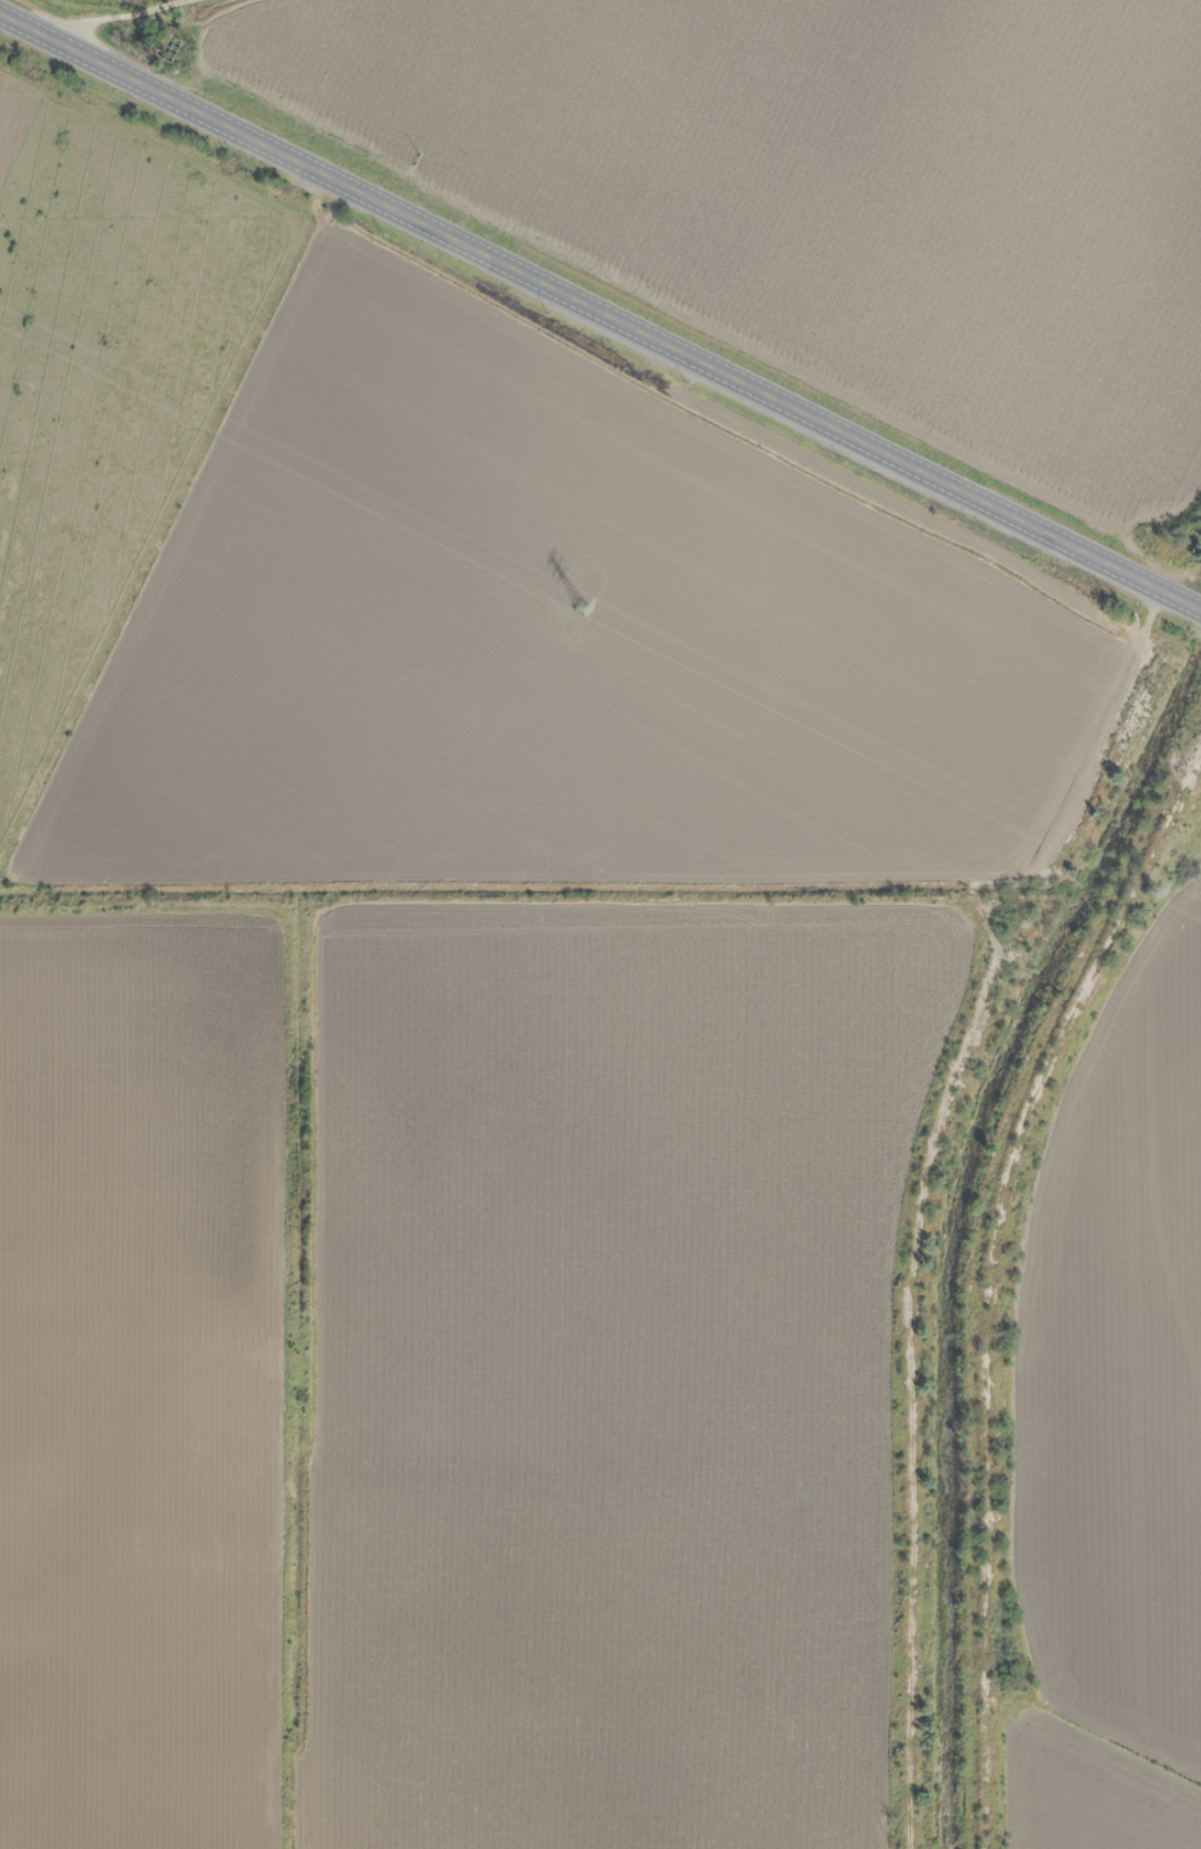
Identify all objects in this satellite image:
road: (600, 305)
power tower: (585, 609)
power tower: (1156, 893)

